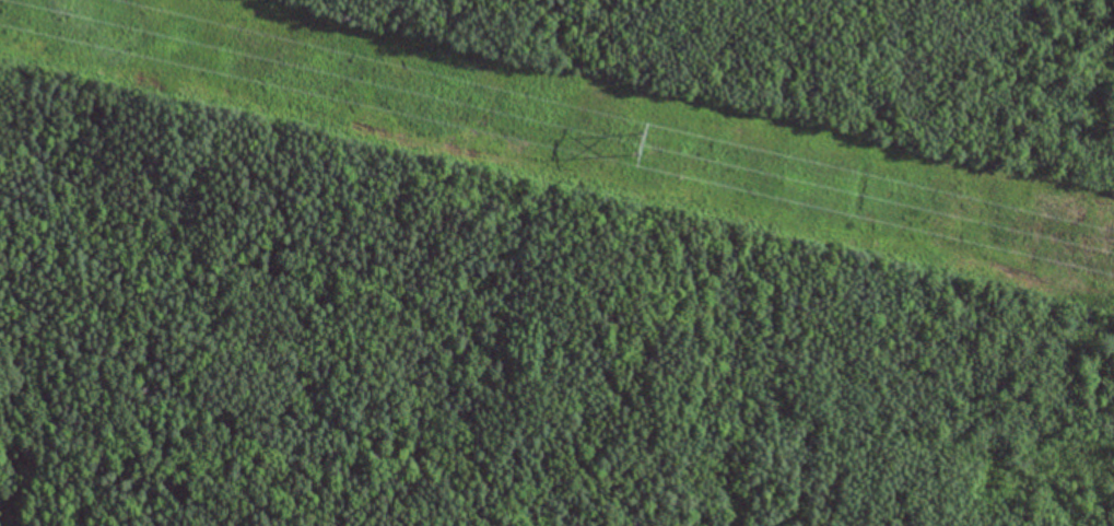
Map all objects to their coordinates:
power tower: (638, 145)

